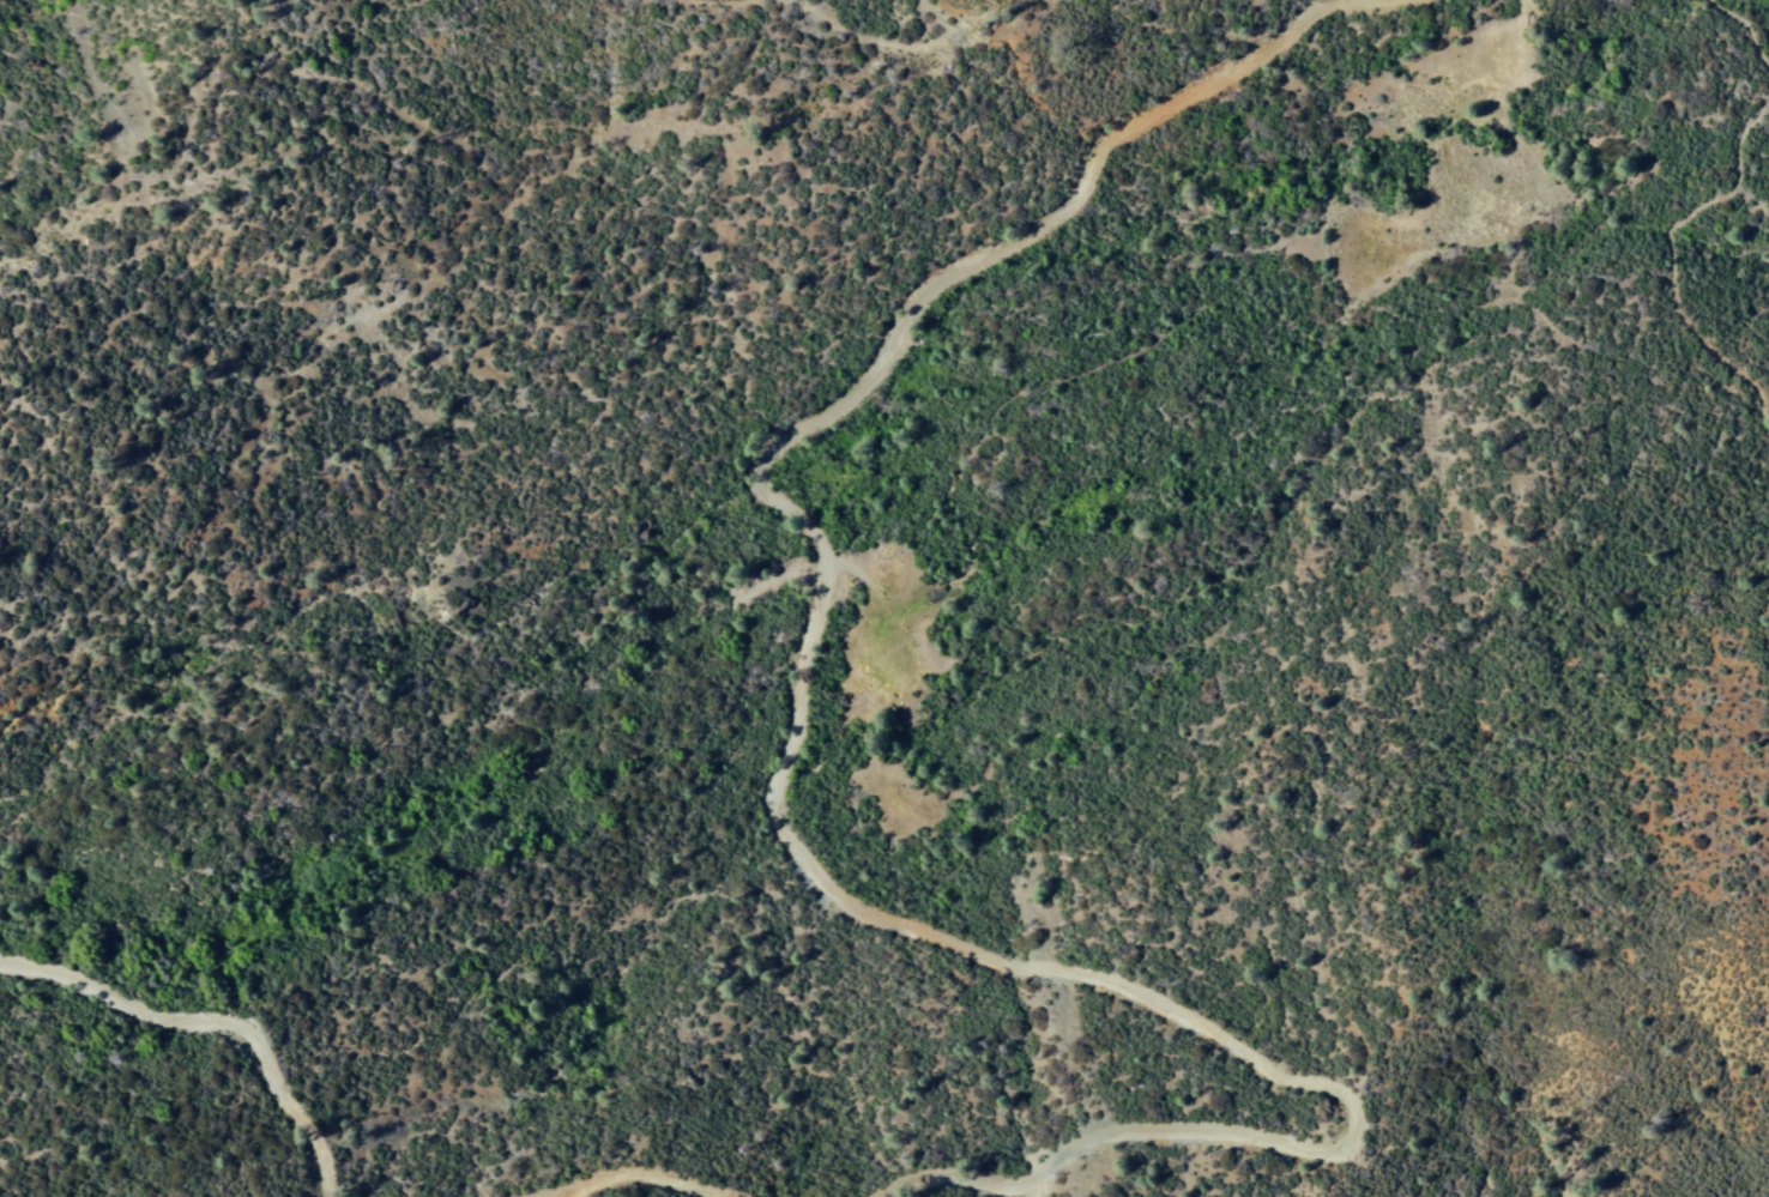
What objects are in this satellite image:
road: (777, 808)
road: (212, 1027)
road: (648, 1184)

